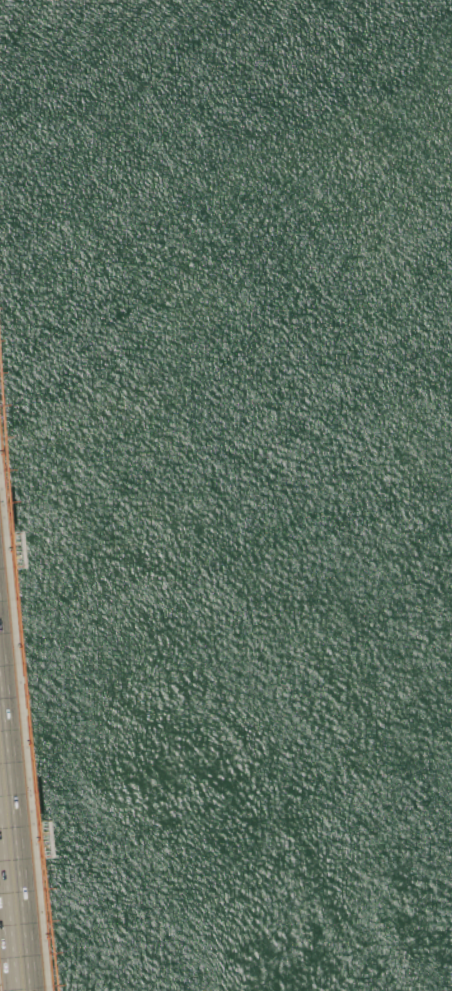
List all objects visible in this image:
road: (2, 967)

